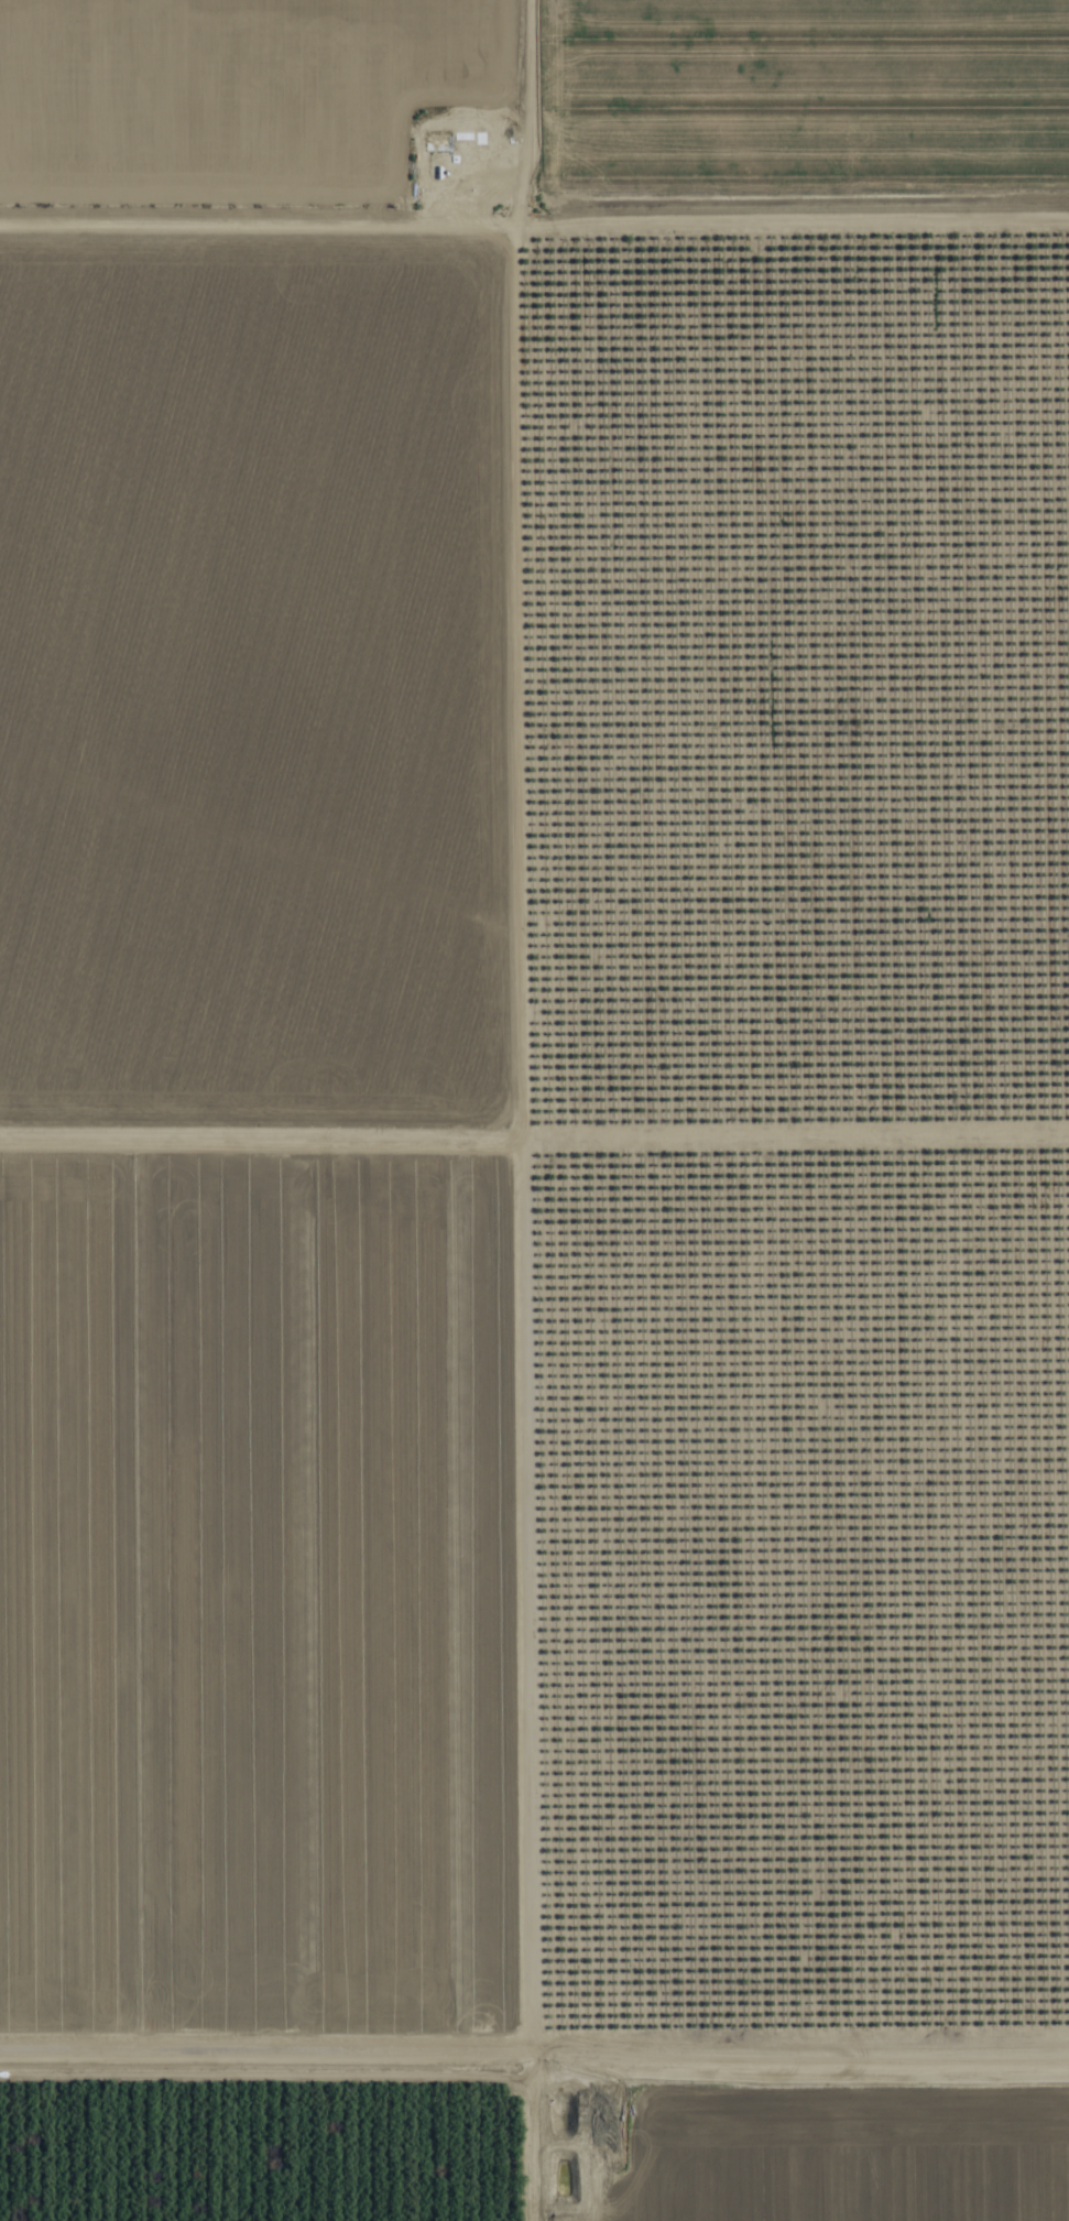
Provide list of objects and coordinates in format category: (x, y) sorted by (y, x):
road: (800, 225)
crop: (340, 1109)
road: (534, 2042)
wastewater plant: (586, 2114)
road: (495, 2132)

